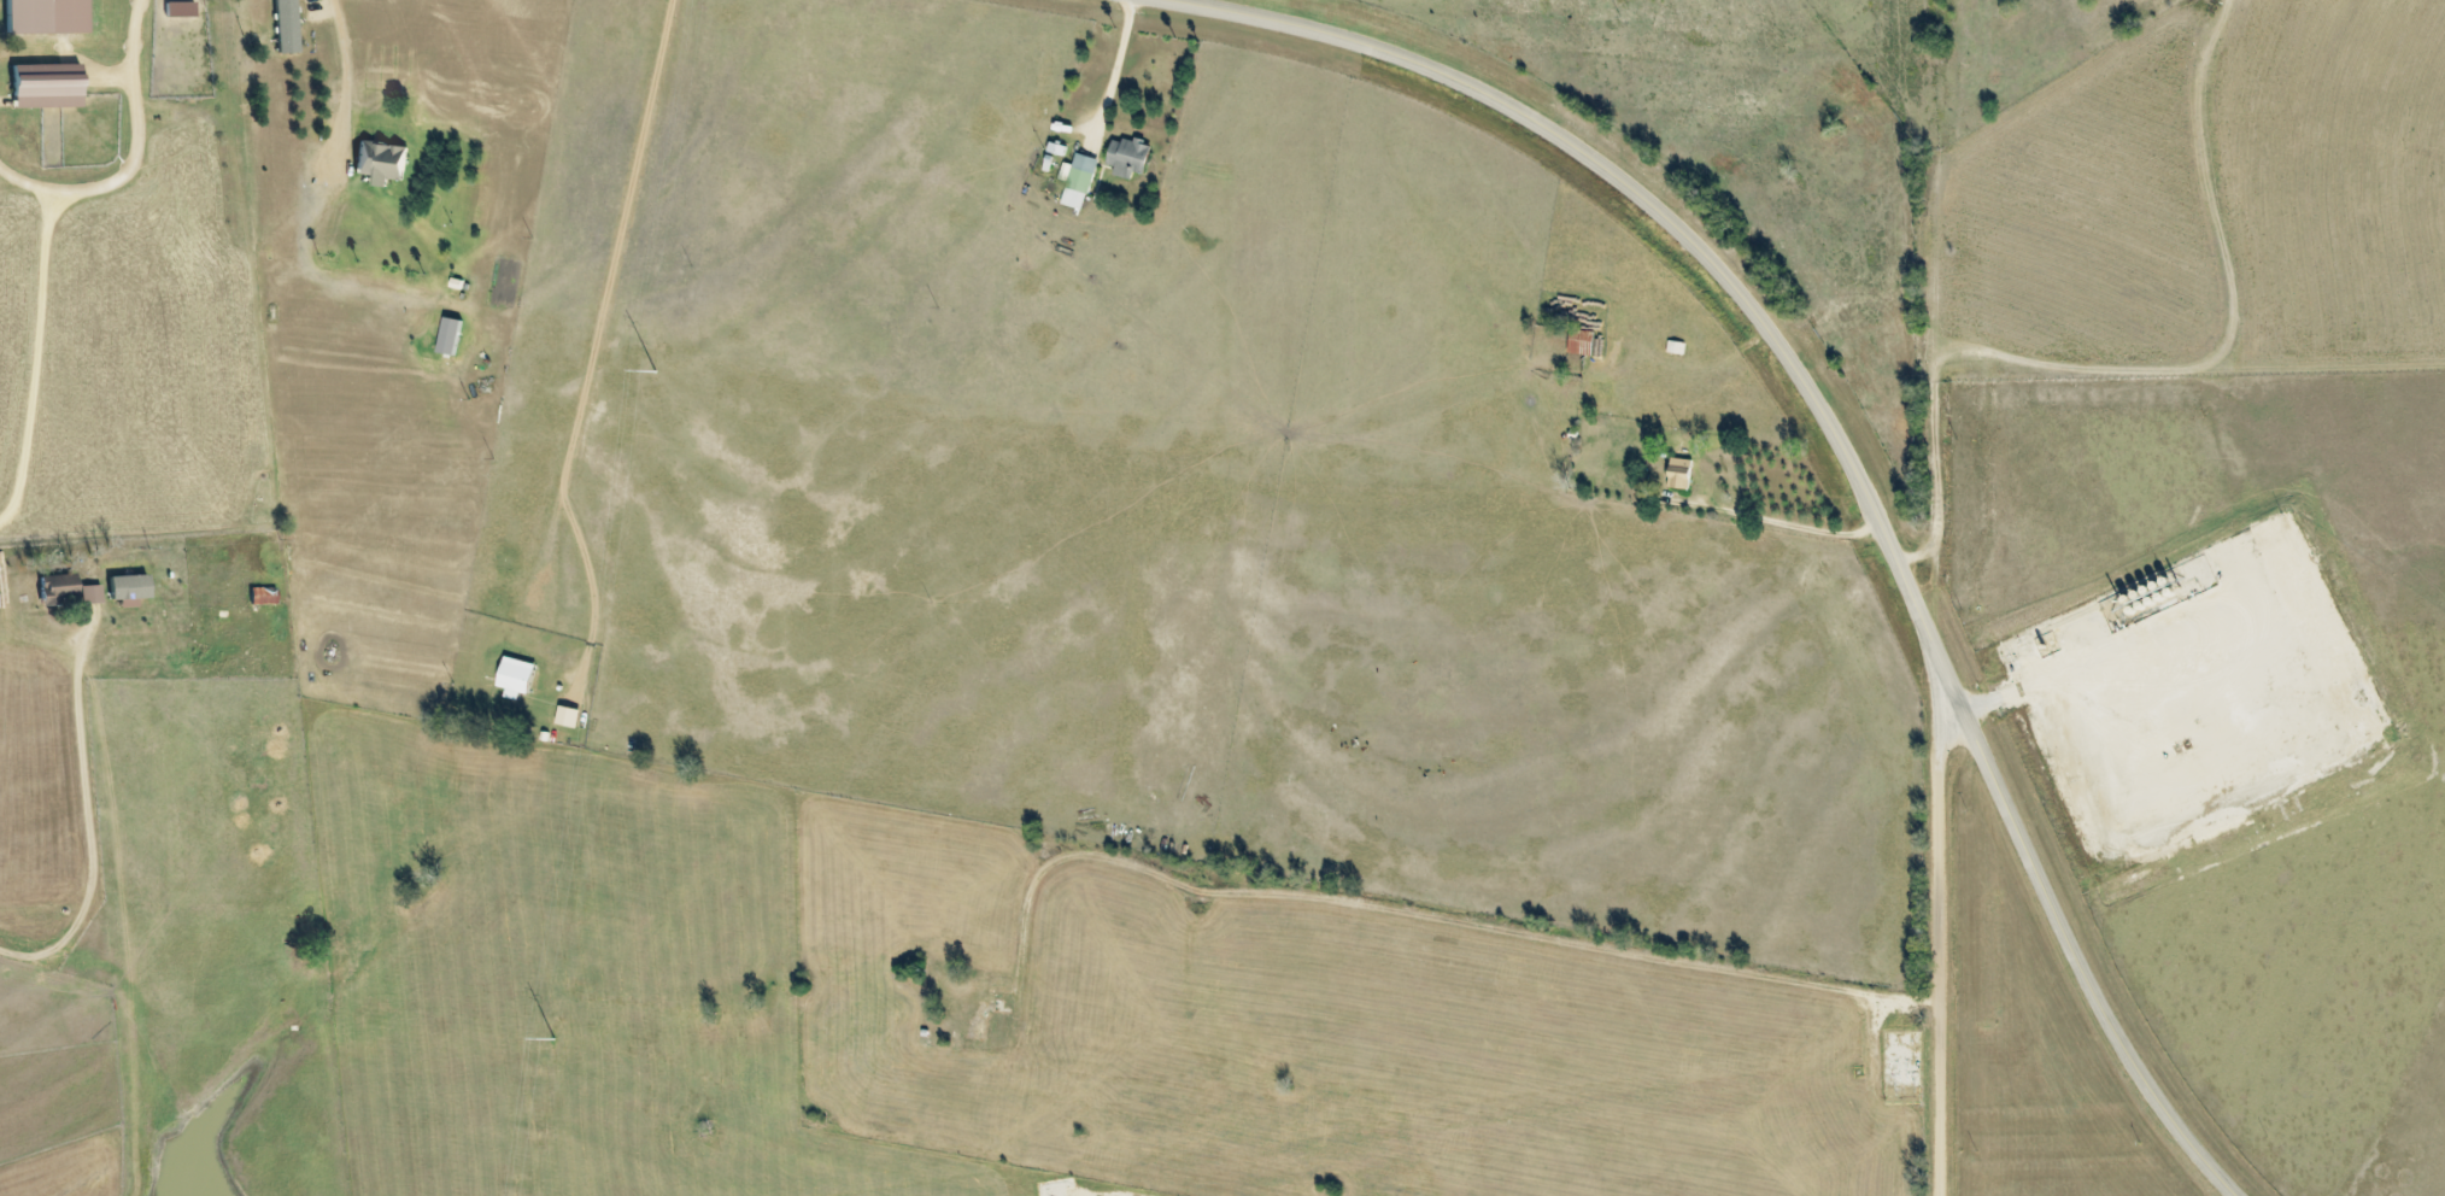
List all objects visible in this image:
building: (180, 6)
building: (46, 12)
building: (287, 24)
building: (46, 80)
road: (345, 87)
road: (2, 102)
building: (1056, 148)
road: (134, 153)
building: (1127, 157)
building: (380, 163)
building: (1077, 181)
building: (448, 336)
building: (1579, 341)
power tower: (655, 371)
road: (2163, 382)
road: (1841, 436)
building: (1679, 473)
building: (127, 586)
building: (54, 588)
building: (89, 593)
building: (262, 596)
building: (515, 676)
road: (2013, 690)
building: (567, 716)
road: (77, 825)
road: (1945, 936)
power tower: (552, 1040)

